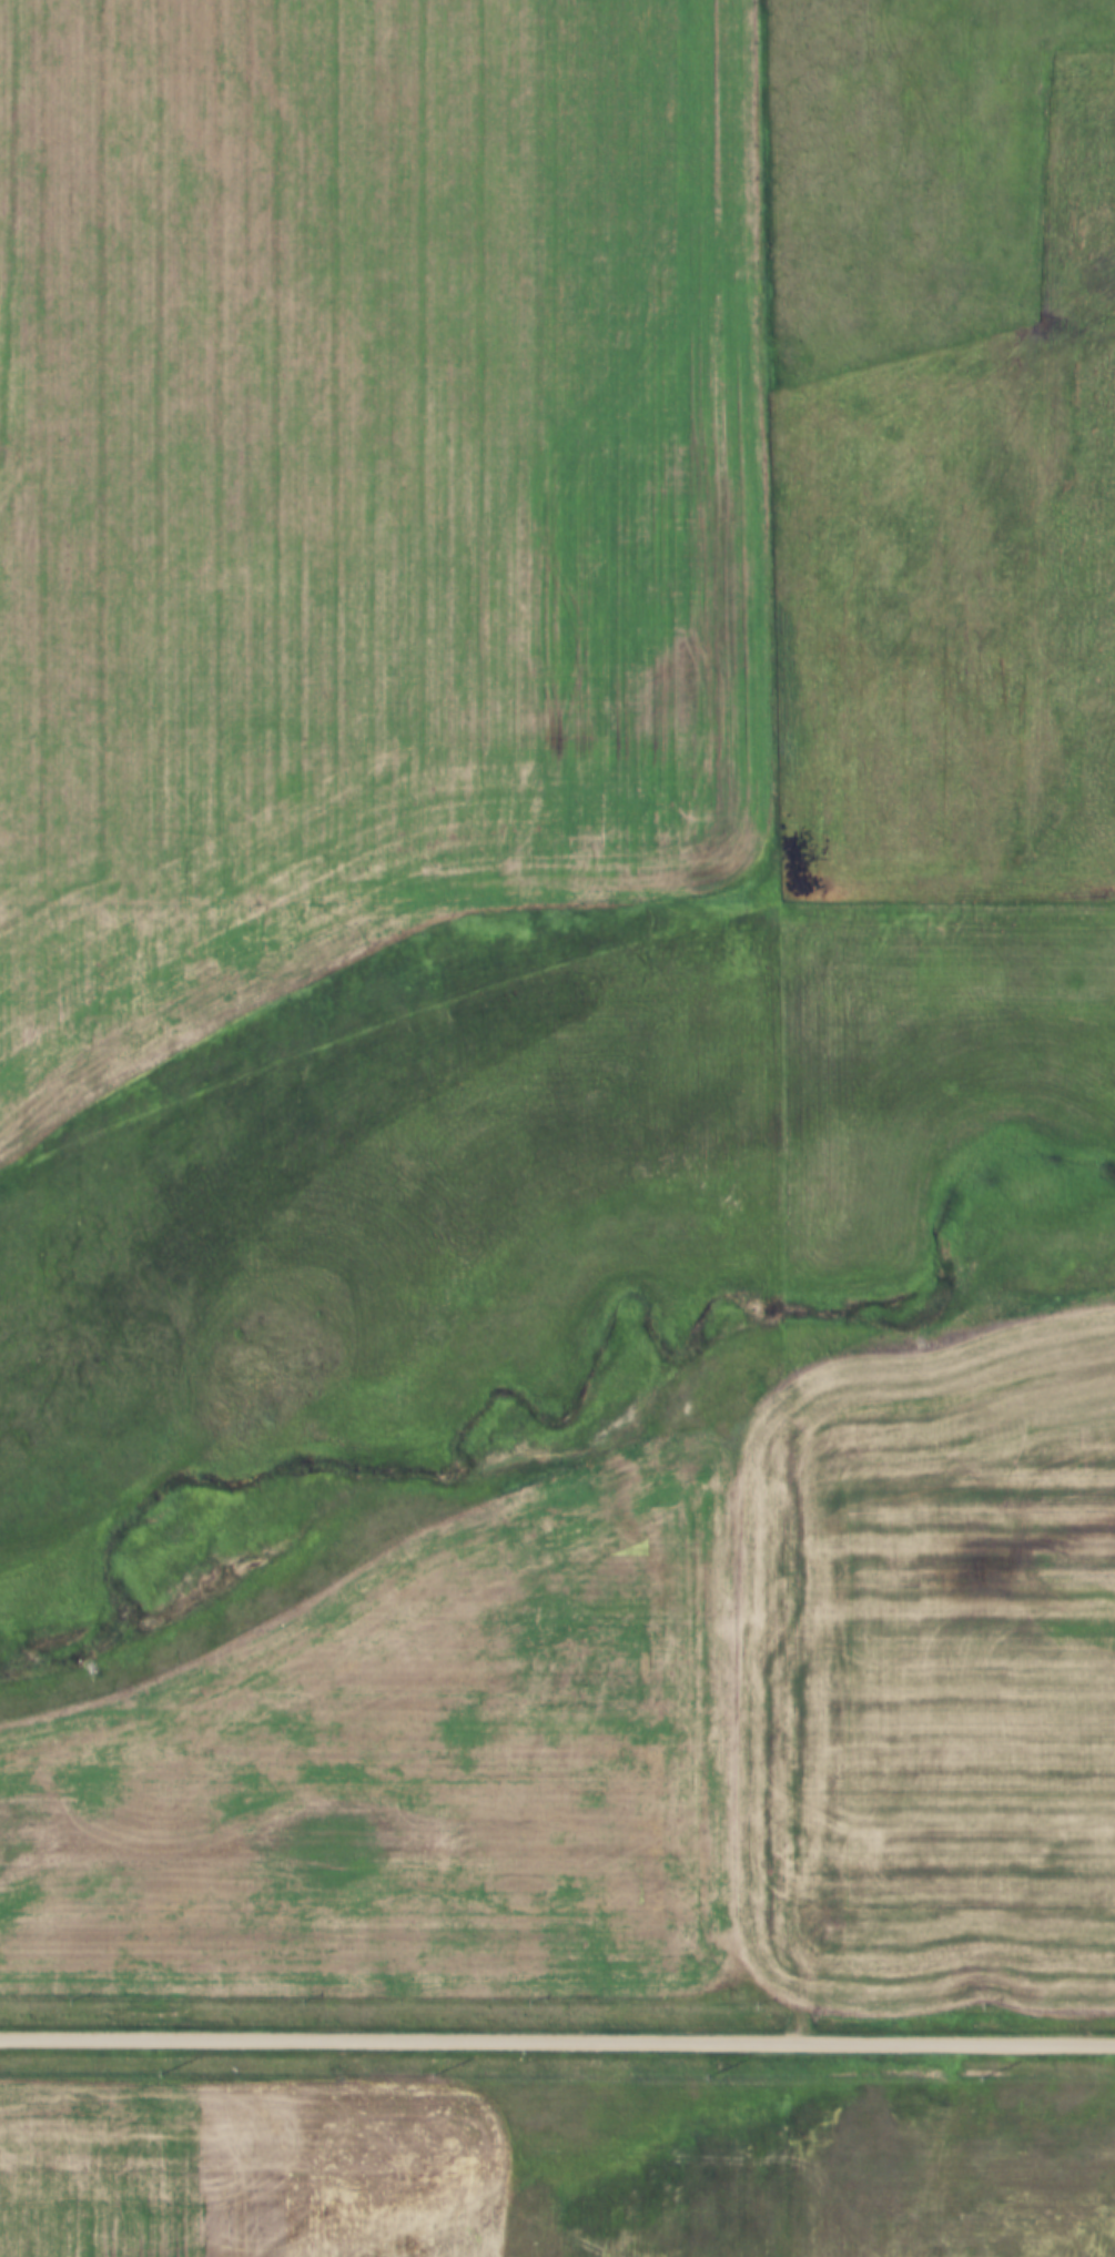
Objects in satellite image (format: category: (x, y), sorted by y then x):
road: (557, 2036)

